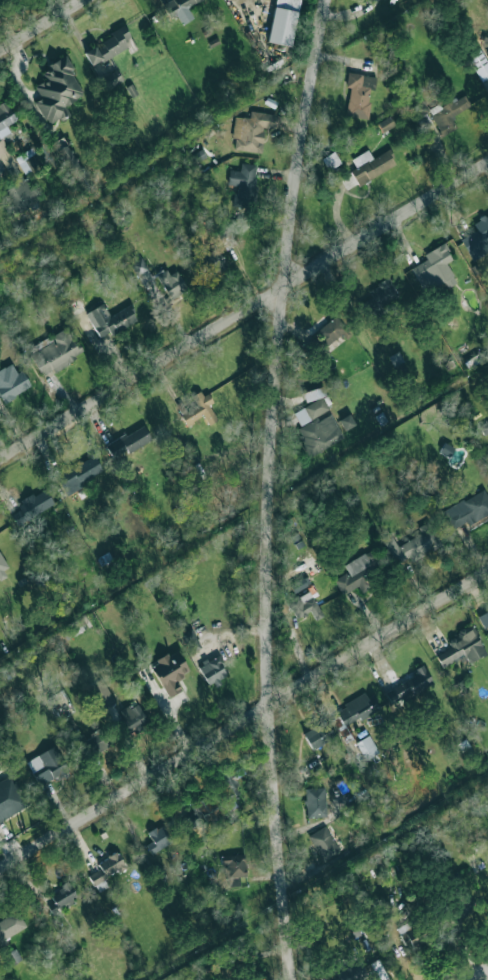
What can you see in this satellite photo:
building: (179, 9)
building: (283, 21)
road: (40, 24)
building: (109, 46)
building: (487, 53)
building: (478, 63)
building: (111, 79)
building: (57, 90)
building: (359, 94)
building: (448, 113)
building: (5, 118)
building: (251, 130)
building: (68, 159)
building: (28, 160)
building: (331, 160)
building: (368, 167)
building: (14, 182)
building: (243, 183)
building: (226, 238)
building: (477, 238)
building: (211, 262)
building: (433, 268)
building: (142, 271)
building: (171, 282)
building: (380, 295)
road: (244, 312)
building: (109, 319)
building: (331, 331)
building: (56, 352)
building: (12, 382)
building: (313, 393)
building: (196, 408)
building: (311, 410)
building: (346, 421)
building: (319, 434)
building: (128, 441)
building: (79, 474)
road: (270, 488)
building: (32, 506)
building: (467, 510)
building: (414, 544)
building: (2, 567)
building: (358, 574)
building: (299, 584)
building: (304, 605)
building: (483, 619)
building: (190, 640)
building: (461, 647)
building: (213, 671)
building: (169, 672)
building: (409, 685)
building: (102, 695)
building: (357, 708)
road: (244, 721)
building: (66, 723)
building: (318, 735)
building: (367, 747)
building: (46, 765)
building: (10, 797)
building: (315, 802)
building: (202, 811)
building: (157, 838)
building: (323, 843)
building: (106, 869)
building: (233, 869)
building: (61, 897)
building: (460, 907)
building: (11, 925)
building: (351, 972)
road: (477, 973)

